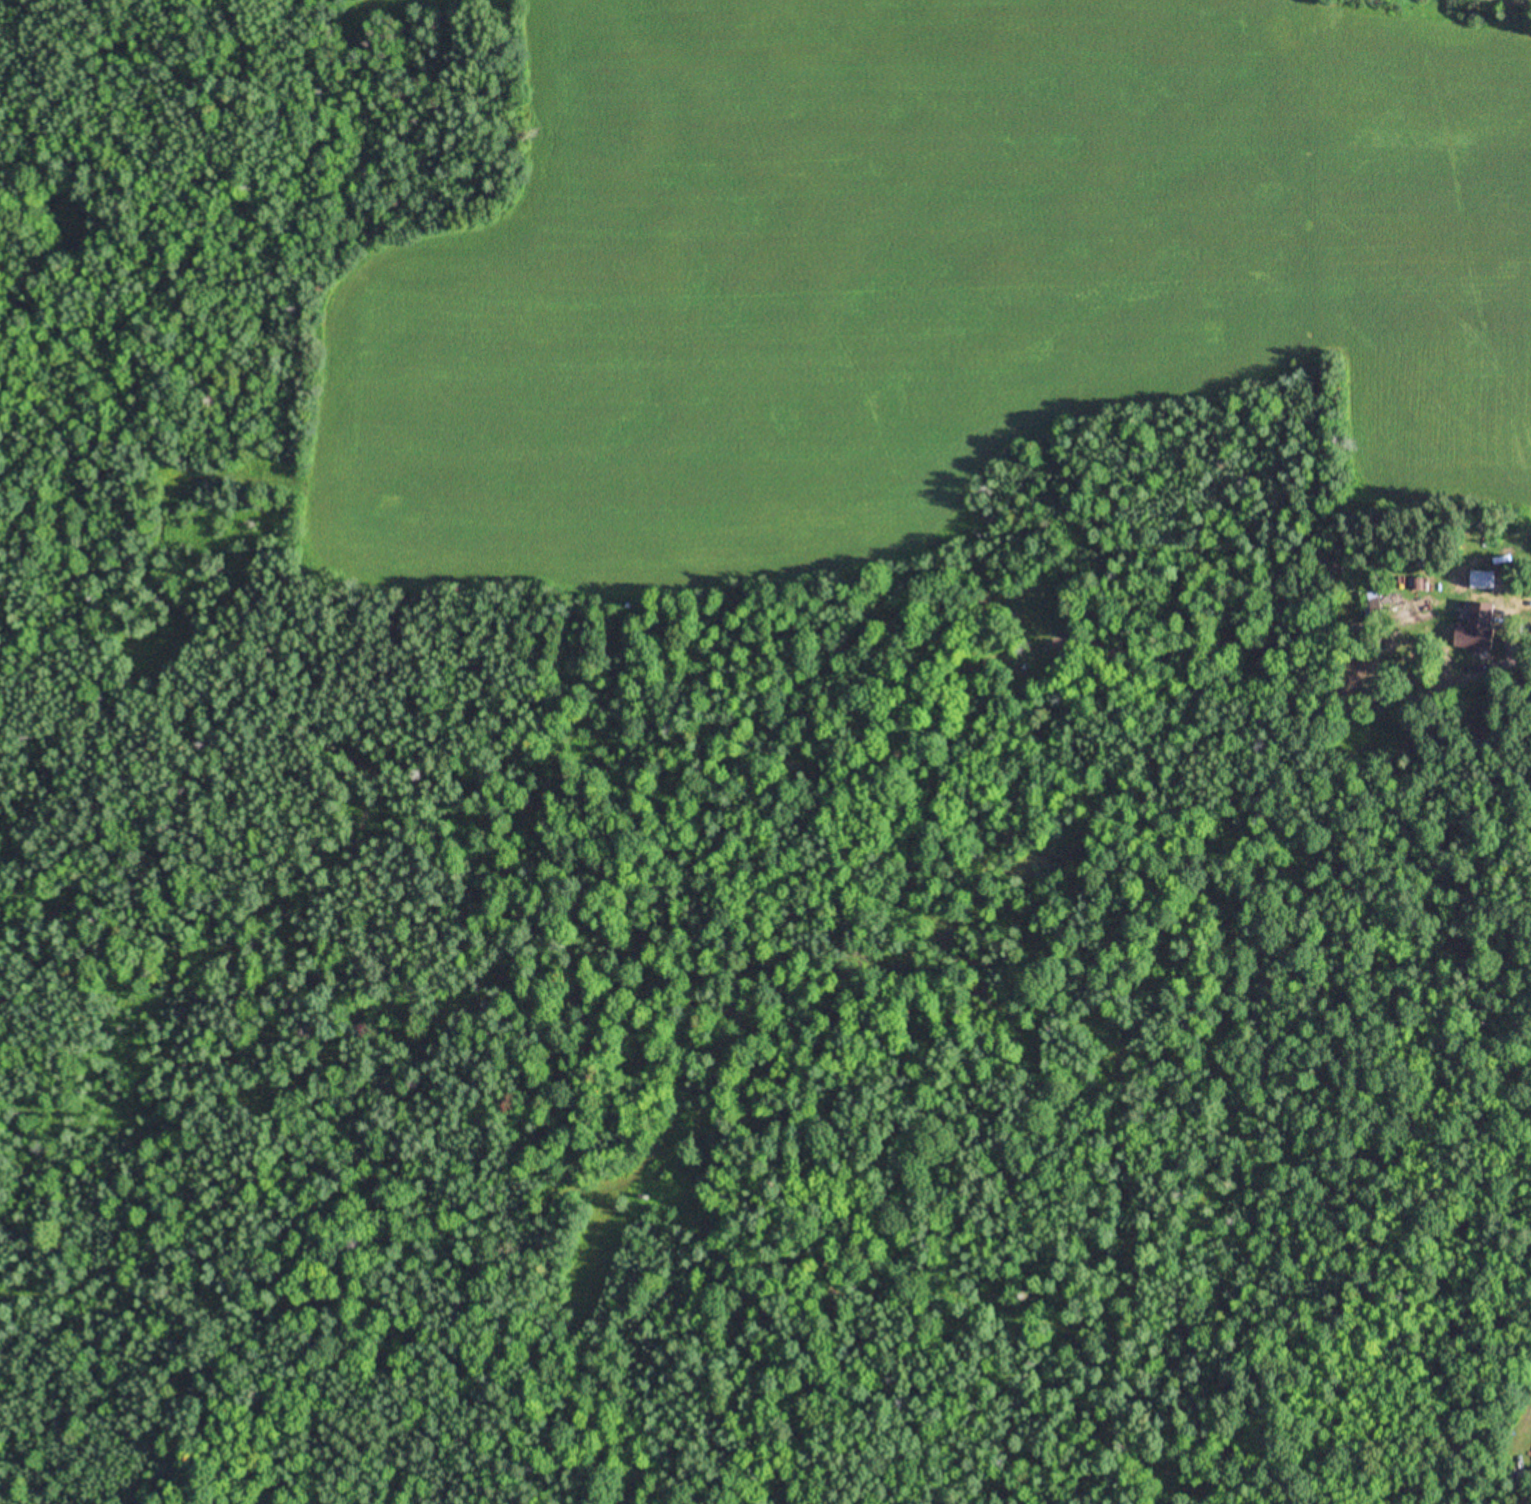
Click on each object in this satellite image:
building: (1376, 606)
building: (1483, 628)

